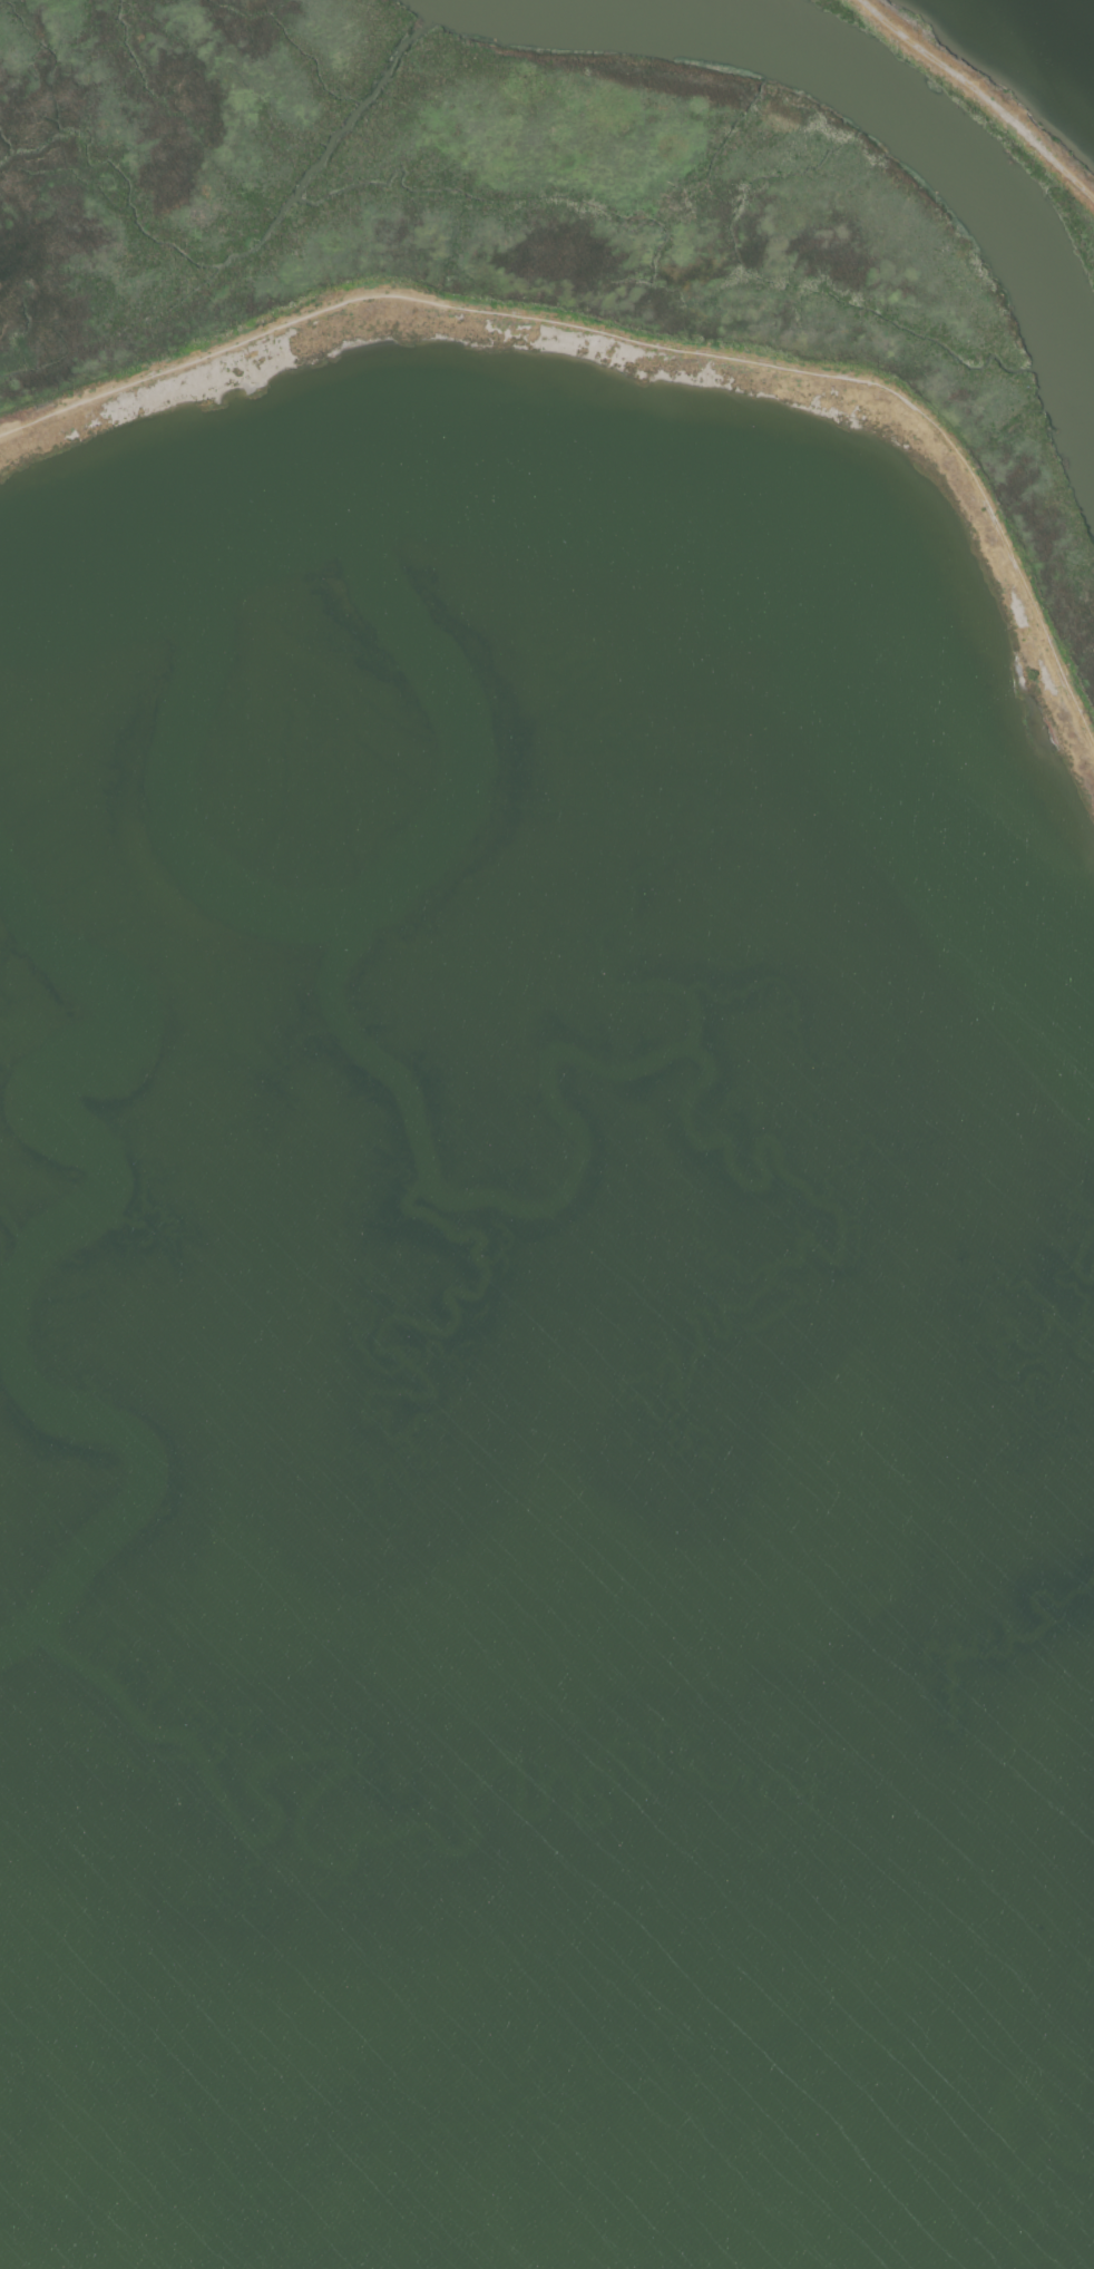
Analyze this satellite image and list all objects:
road: (979, 96)
river: (880, 110)
road: (641, 340)

